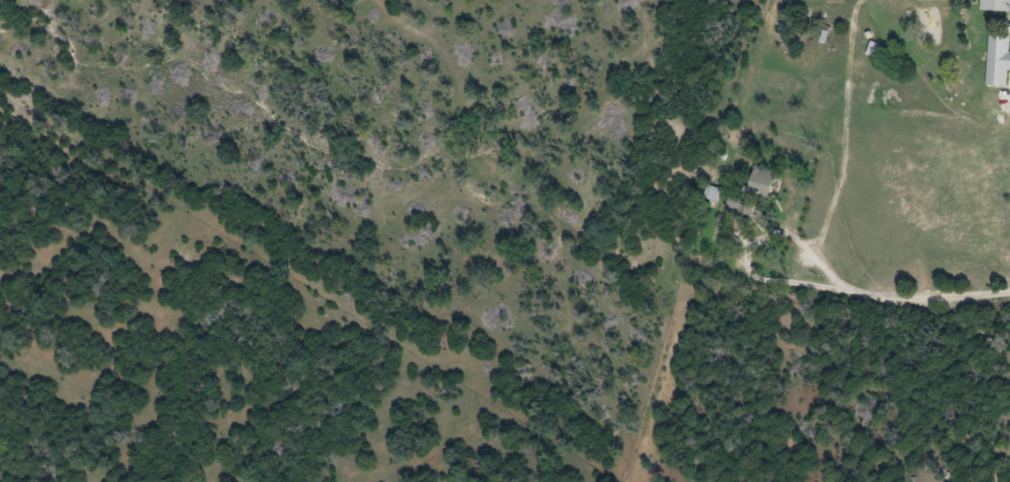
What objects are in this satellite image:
building: (997, 6)
building: (1000, 61)
building: (771, 183)
road: (750, 243)
road: (926, 294)

